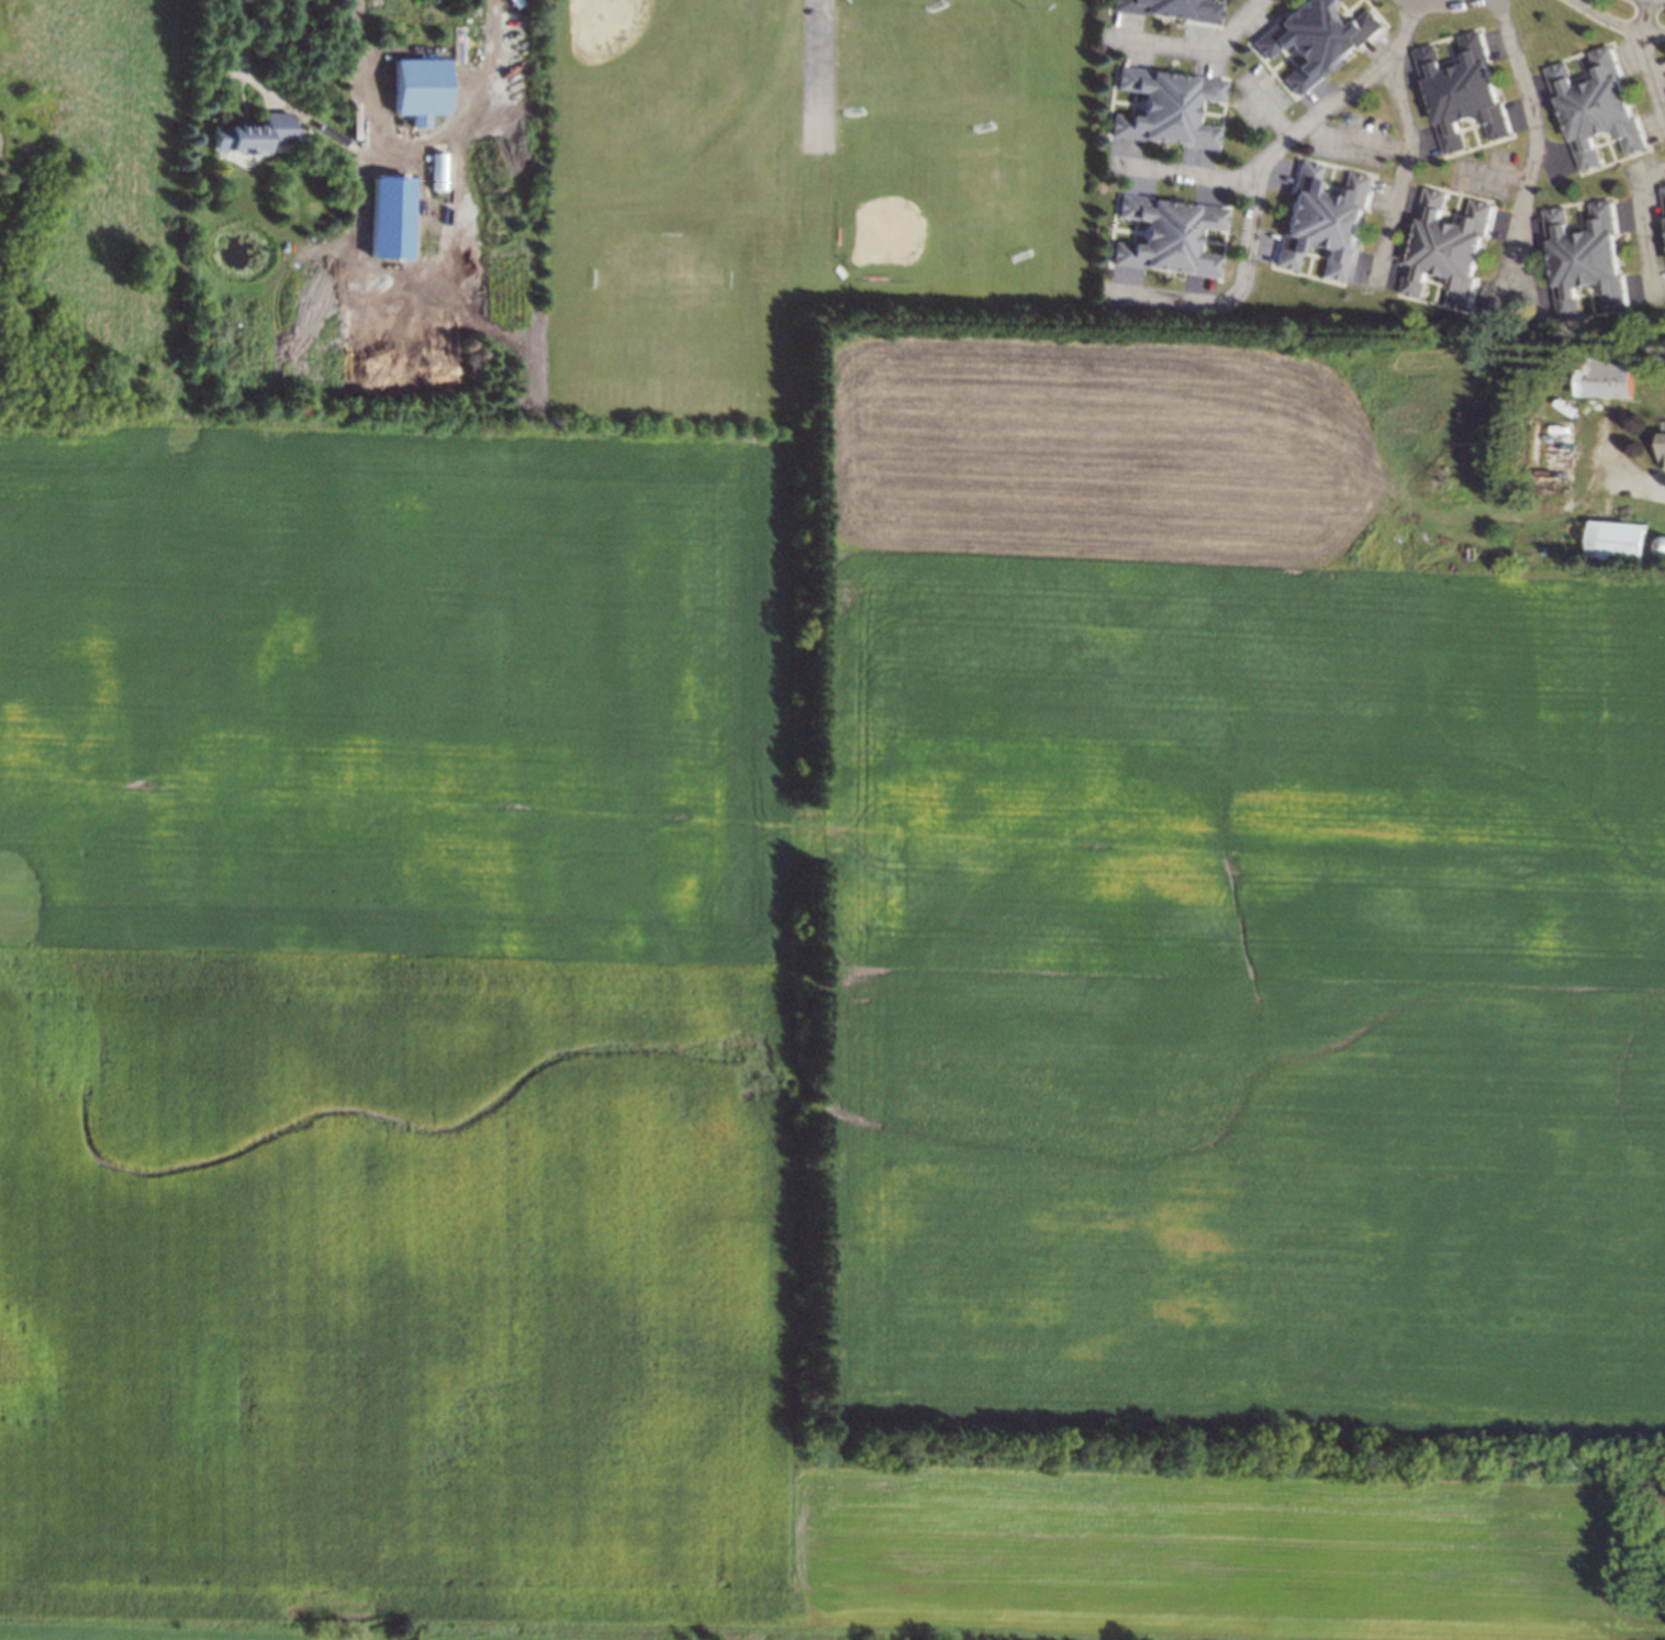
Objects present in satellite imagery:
road: (1434, 8)
building: (1174, 10)
road: (1610, 24)
building: (1317, 41)
building: (458, 44)
road: (1195, 45)
park: (628, 58)
road: (1644, 68)
building: (418, 85)
building: (1461, 96)
building: (1172, 111)
building: (1597, 112)
building: (247, 135)
road: (1351, 142)
road: (414, 146)
road: (1522, 159)
building: (438, 170)
road: (1184, 171)
road: (1395, 177)
building: (300, 178)
building: (314, 180)
road: (1251, 183)
park: (798, 190)
building: (1664, 197)
park: (907, 211)
building: (389, 216)
road: (1632, 220)
building: (1326, 227)
building: (1174, 241)
building: (1446, 254)
building: (1586, 263)
building: (1610, 372)
building: (1554, 439)
building: (1662, 447)
road: (1640, 484)
building: (1625, 536)
building: (1663, 540)
crop: (819, 1029)

